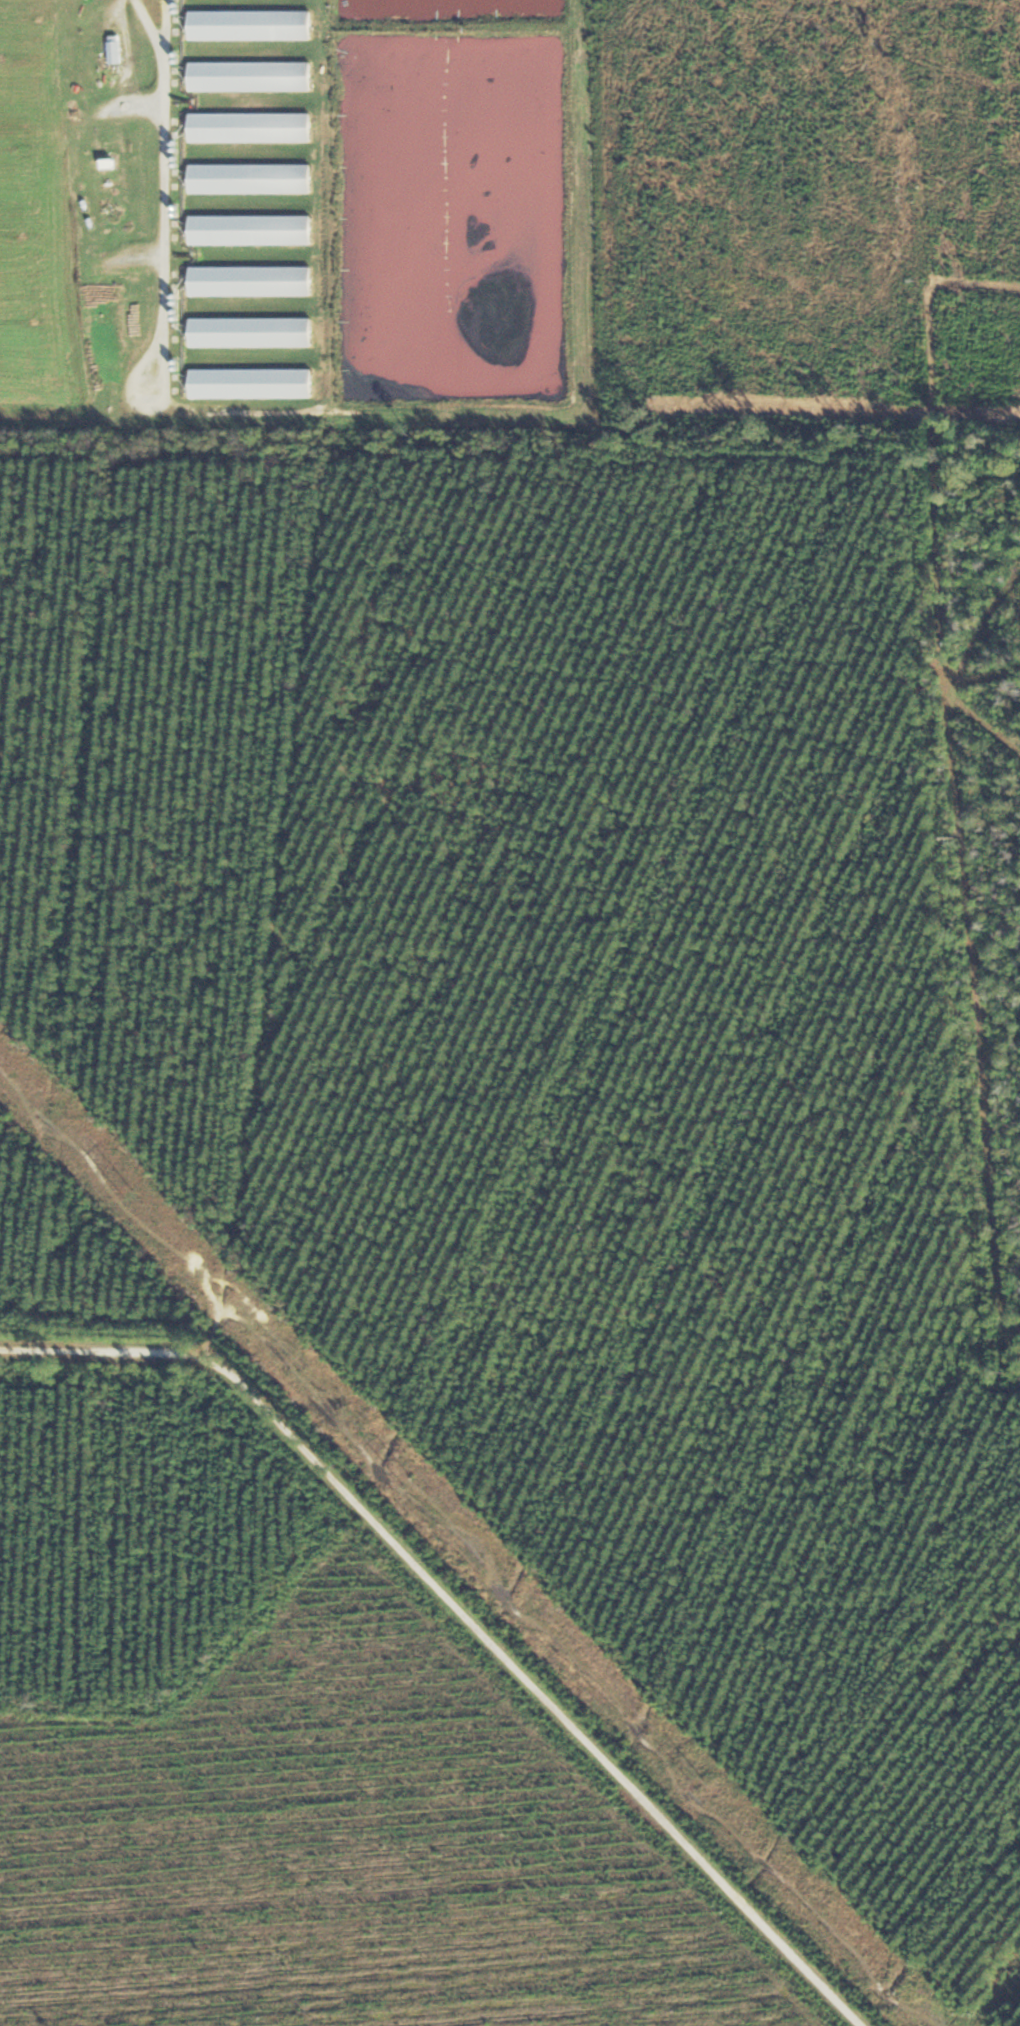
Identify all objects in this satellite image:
road: (21, 16)
building: (252, 25)
building: (116, 50)
building: (252, 76)
building: (252, 127)
building: (252, 178)
building: (252, 230)
building: (252, 281)
building: (252, 332)
building: (253, 384)
power tower: (133, 1195)
power tower: (411, 1484)
road: (476, 1603)
power tower: (704, 1785)

